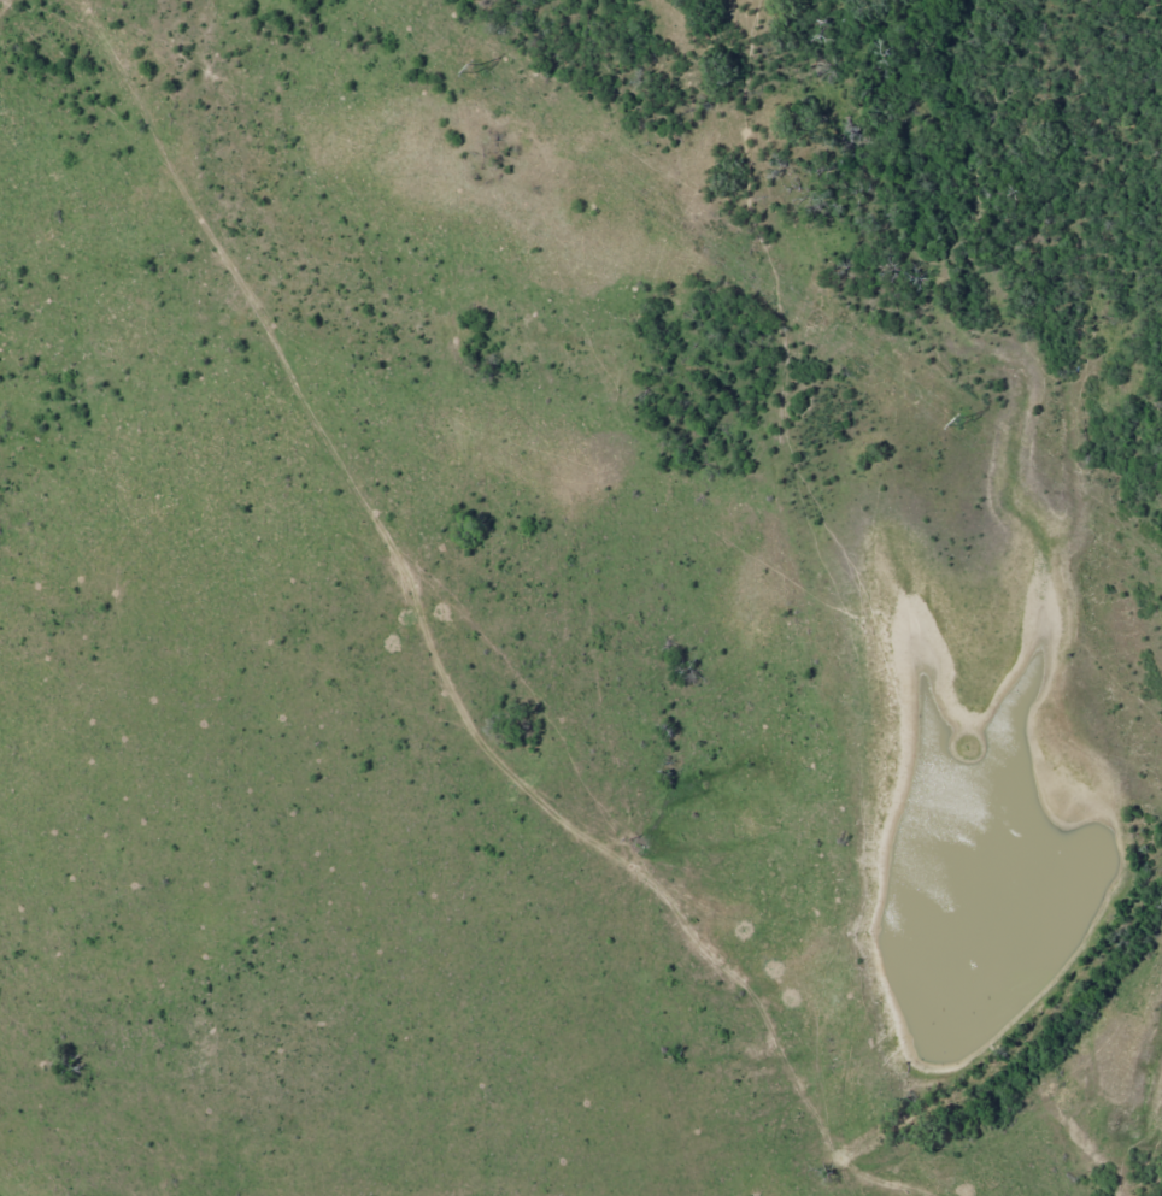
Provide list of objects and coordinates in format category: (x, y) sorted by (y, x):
power tower: (491, 70)
power tower: (975, 424)

